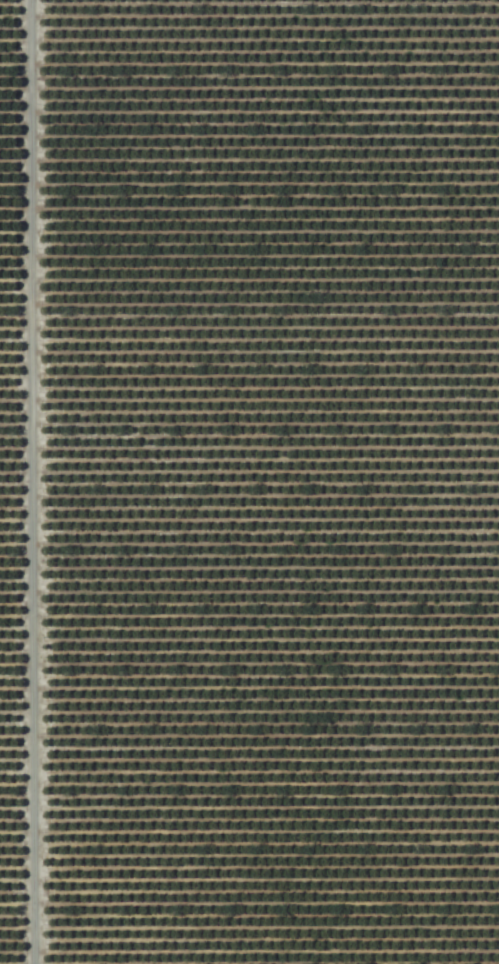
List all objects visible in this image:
road: (26, 482)
crop: (249, 482)

